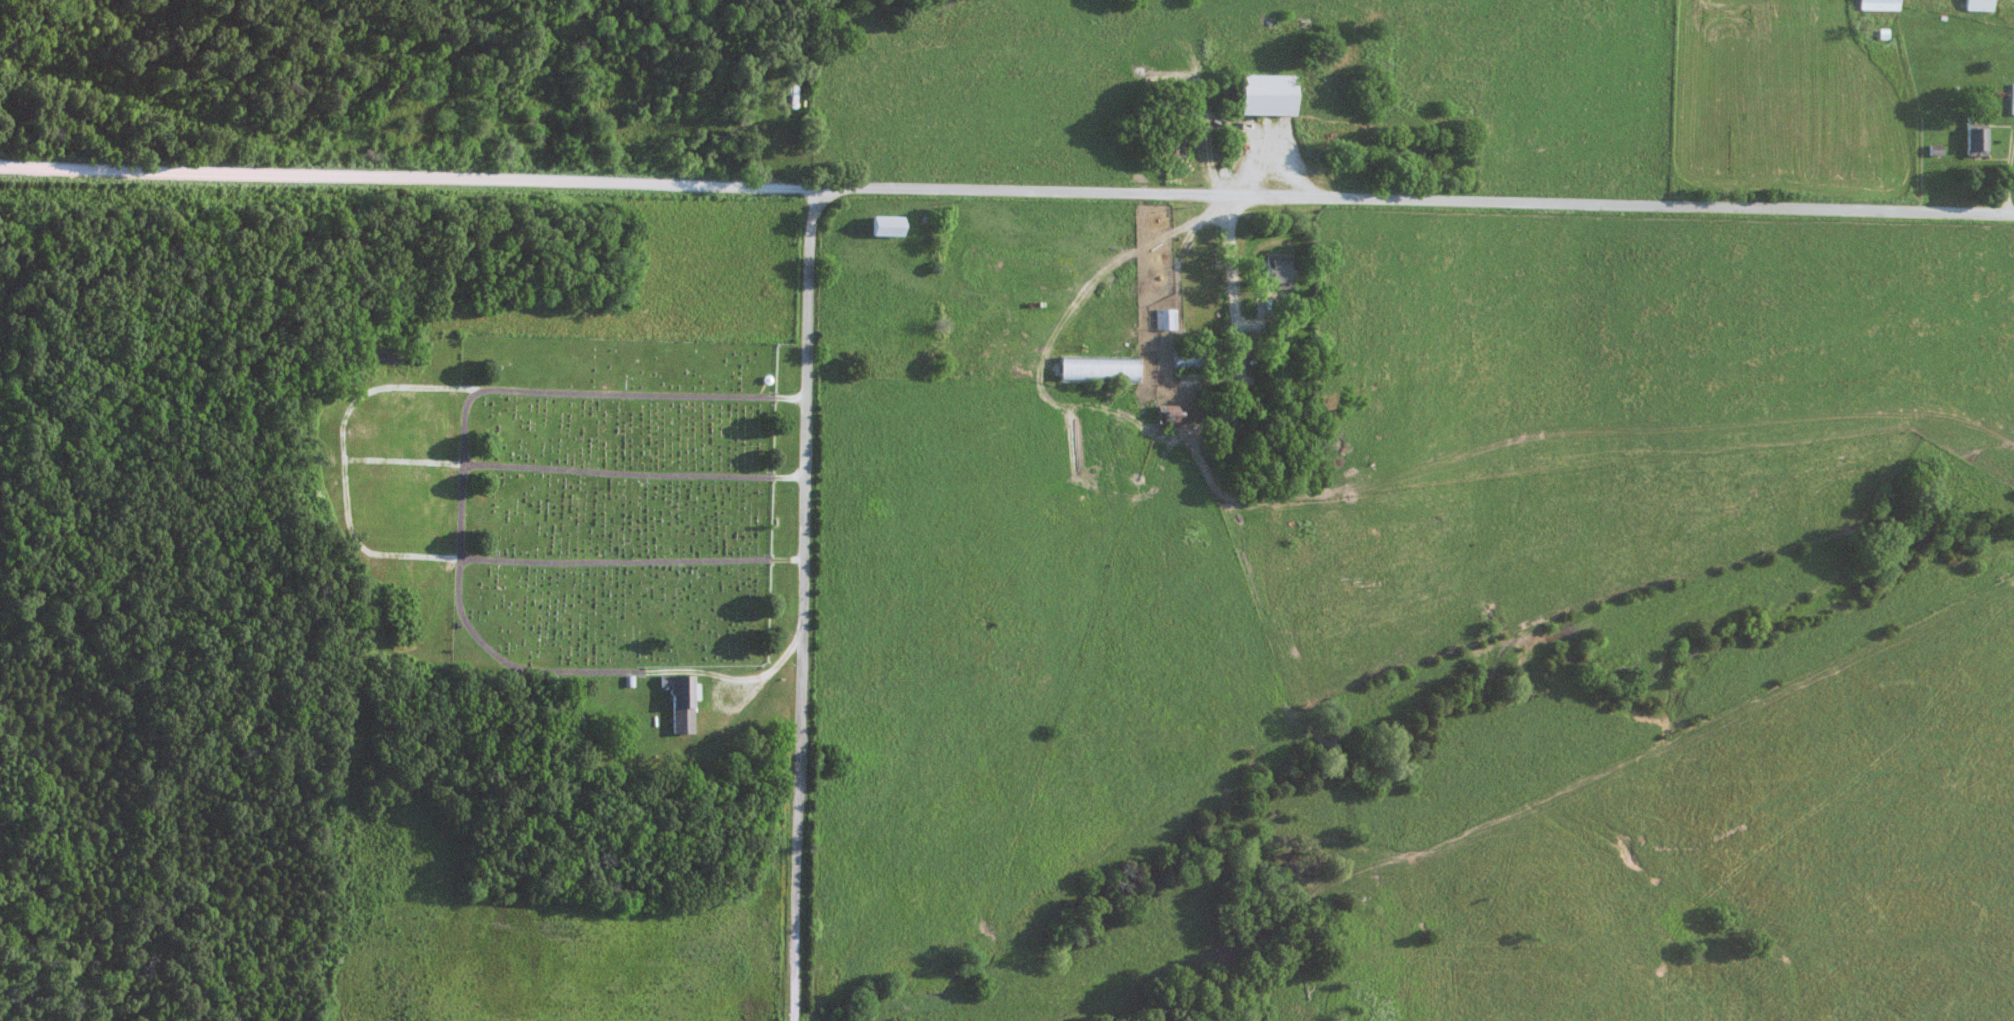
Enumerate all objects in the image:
building: (1877, 2)
building: (1976, 5)
building: (1262, 95)
building: (2011, 99)
building: (1203, 135)
building: (1972, 142)
building: (1166, 146)
building: (1934, 153)
road: (1006, 192)
building: (891, 226)
building: (1273, 271)
road: (1234, 290)
building: (1164, 319)
building: (1183, 359)
building: (1094, 370)
building: (1160, 417)
park: (615, 508)
road: (808, 604)
building: (683, 700)

